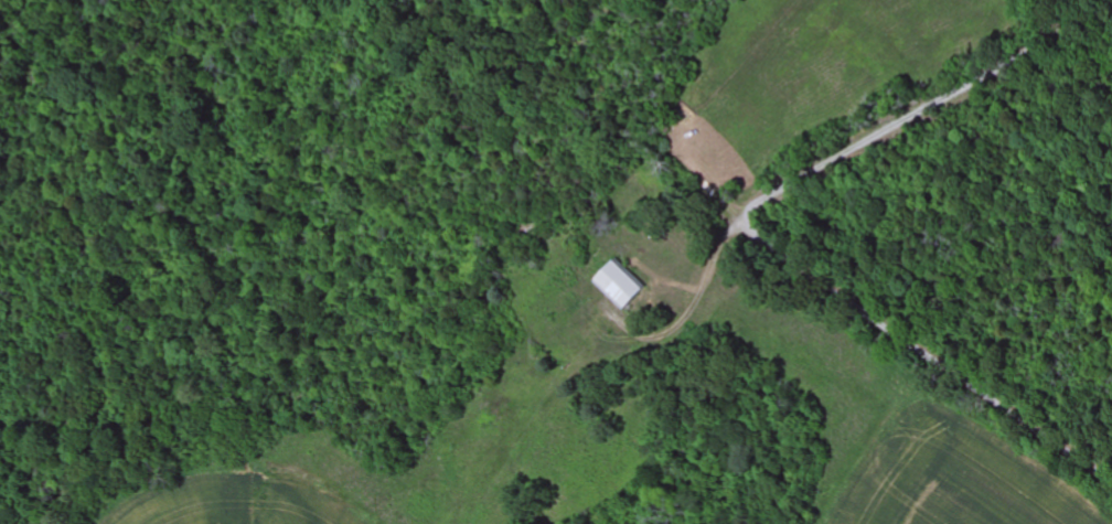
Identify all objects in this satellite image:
road: (764, 244)
building: (620, 287)

